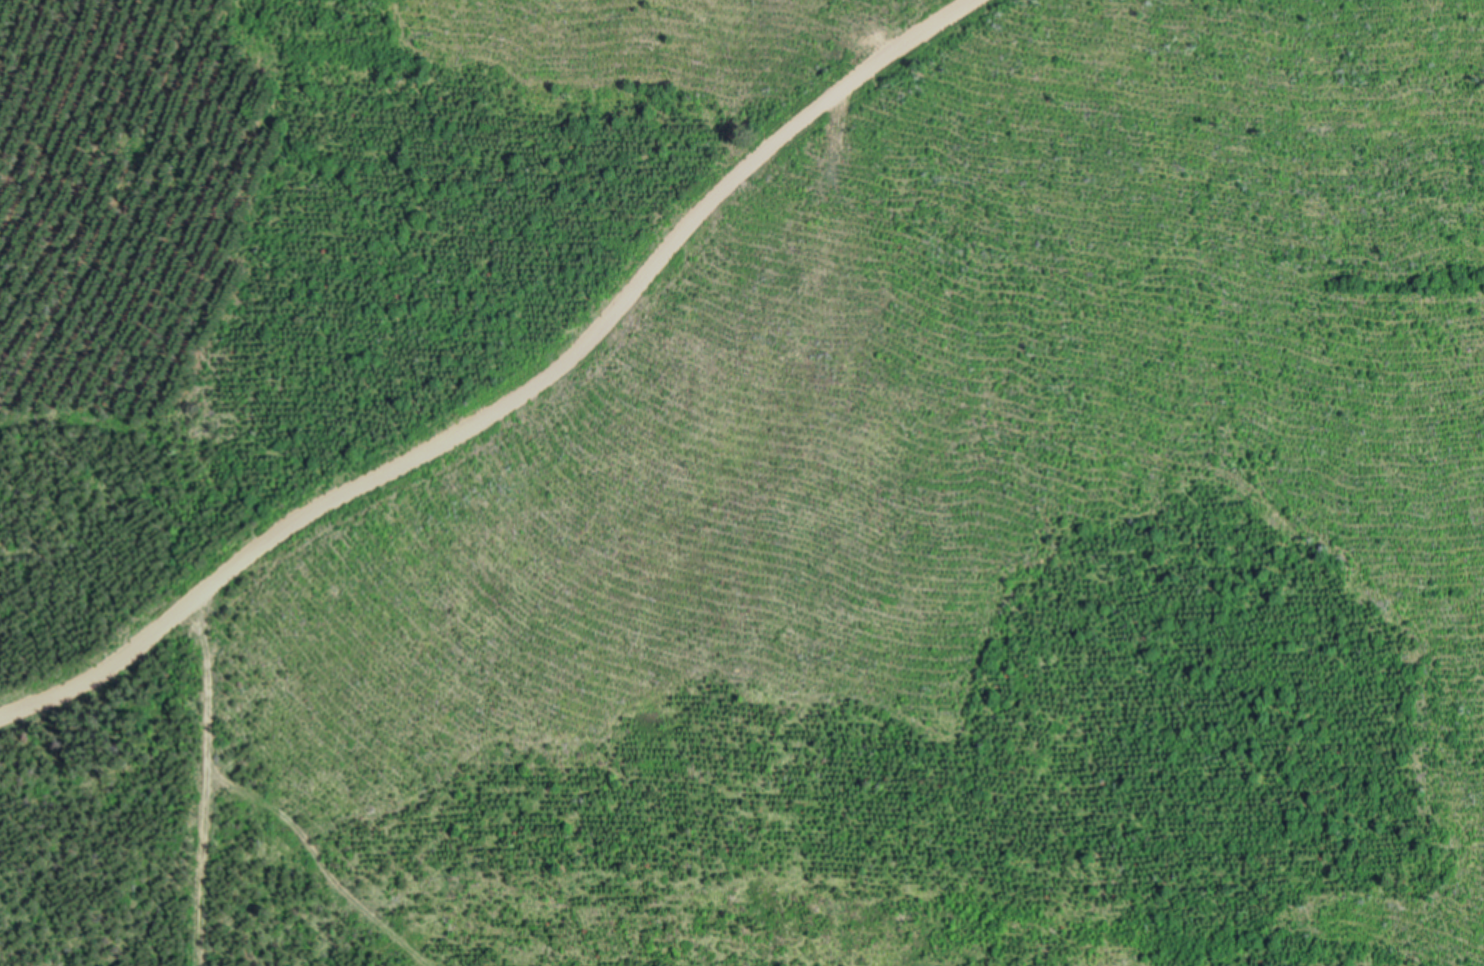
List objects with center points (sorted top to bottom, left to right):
road: (520, 402)

